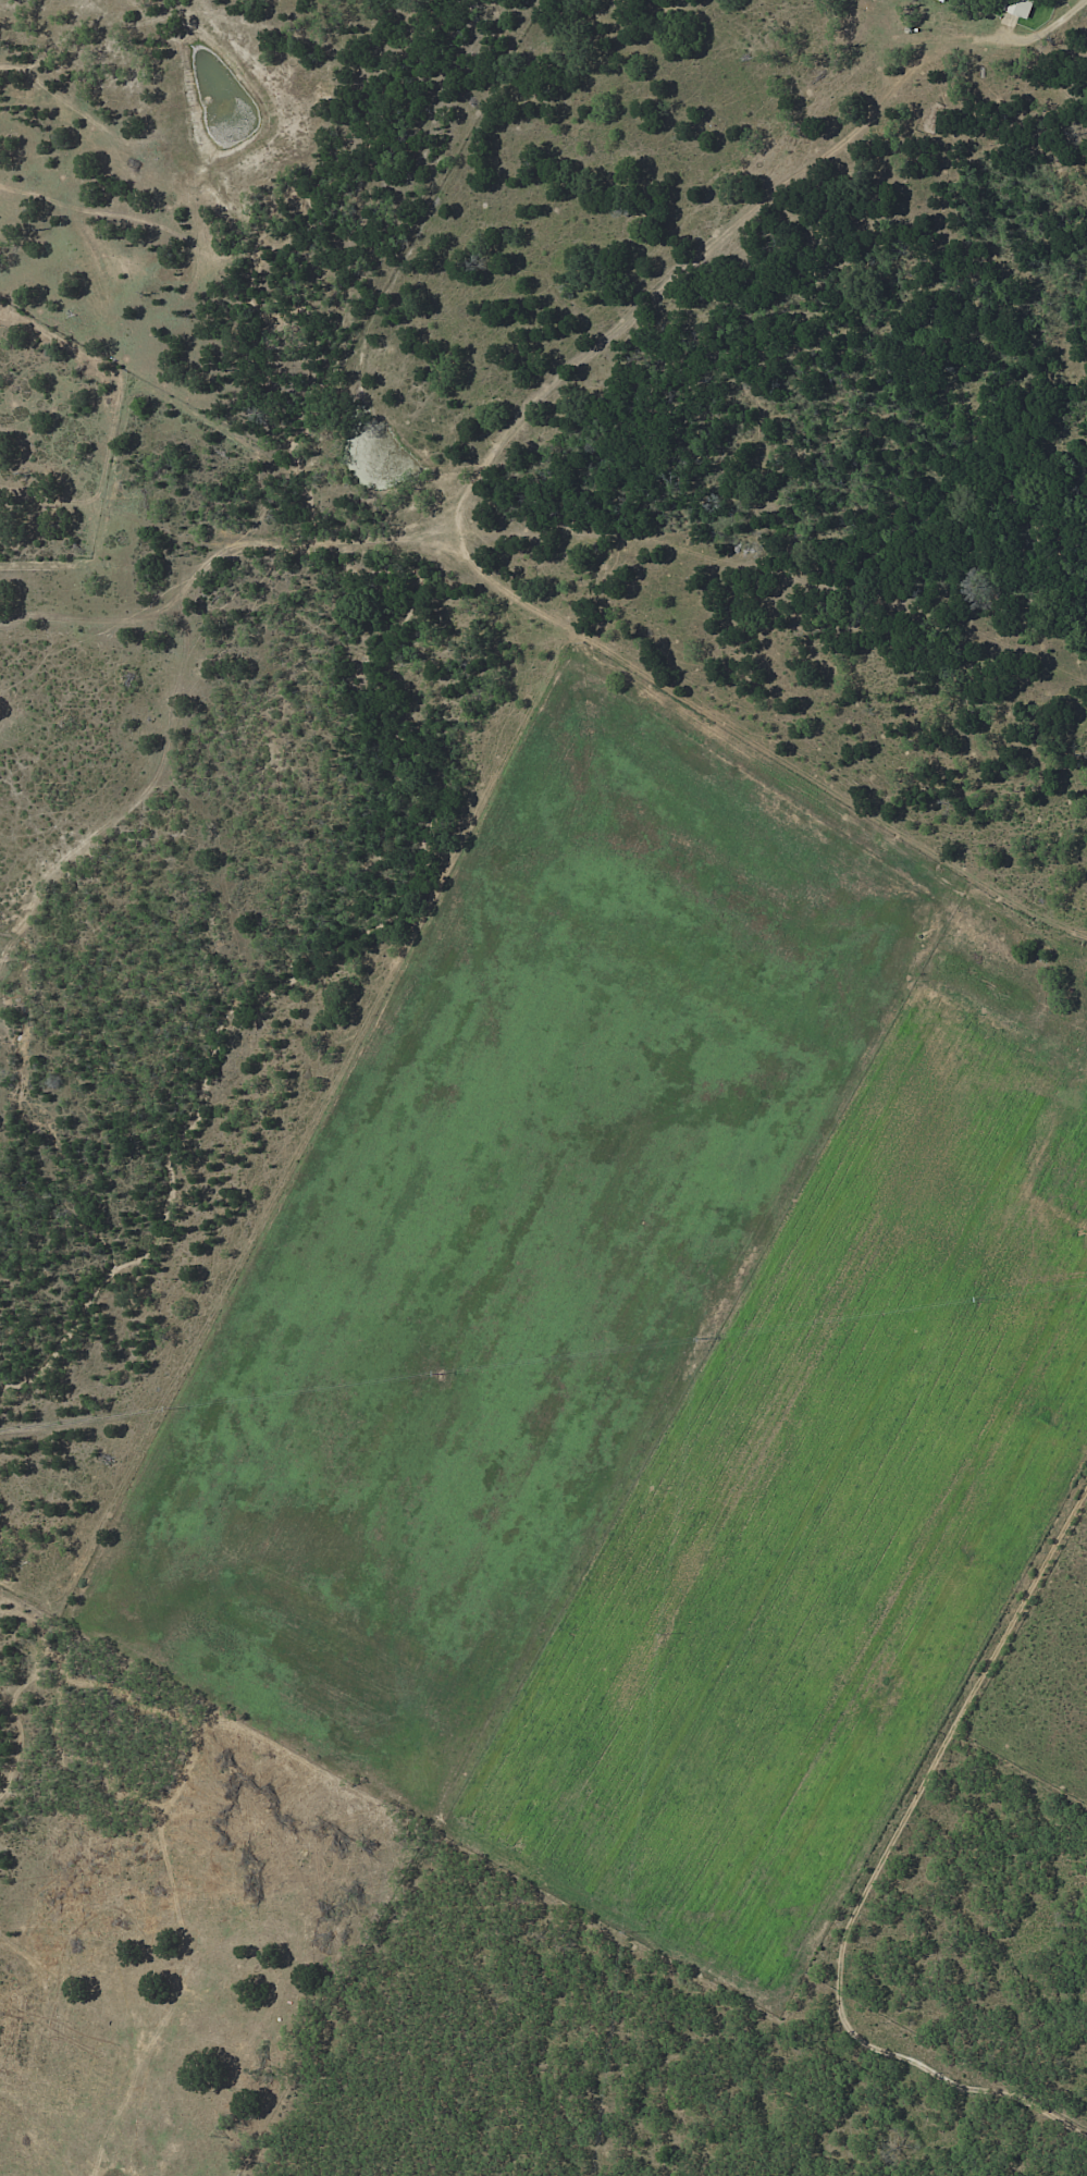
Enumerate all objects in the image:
building: (946, 1)
building: (1025, 7)
road: (1032, 36)

